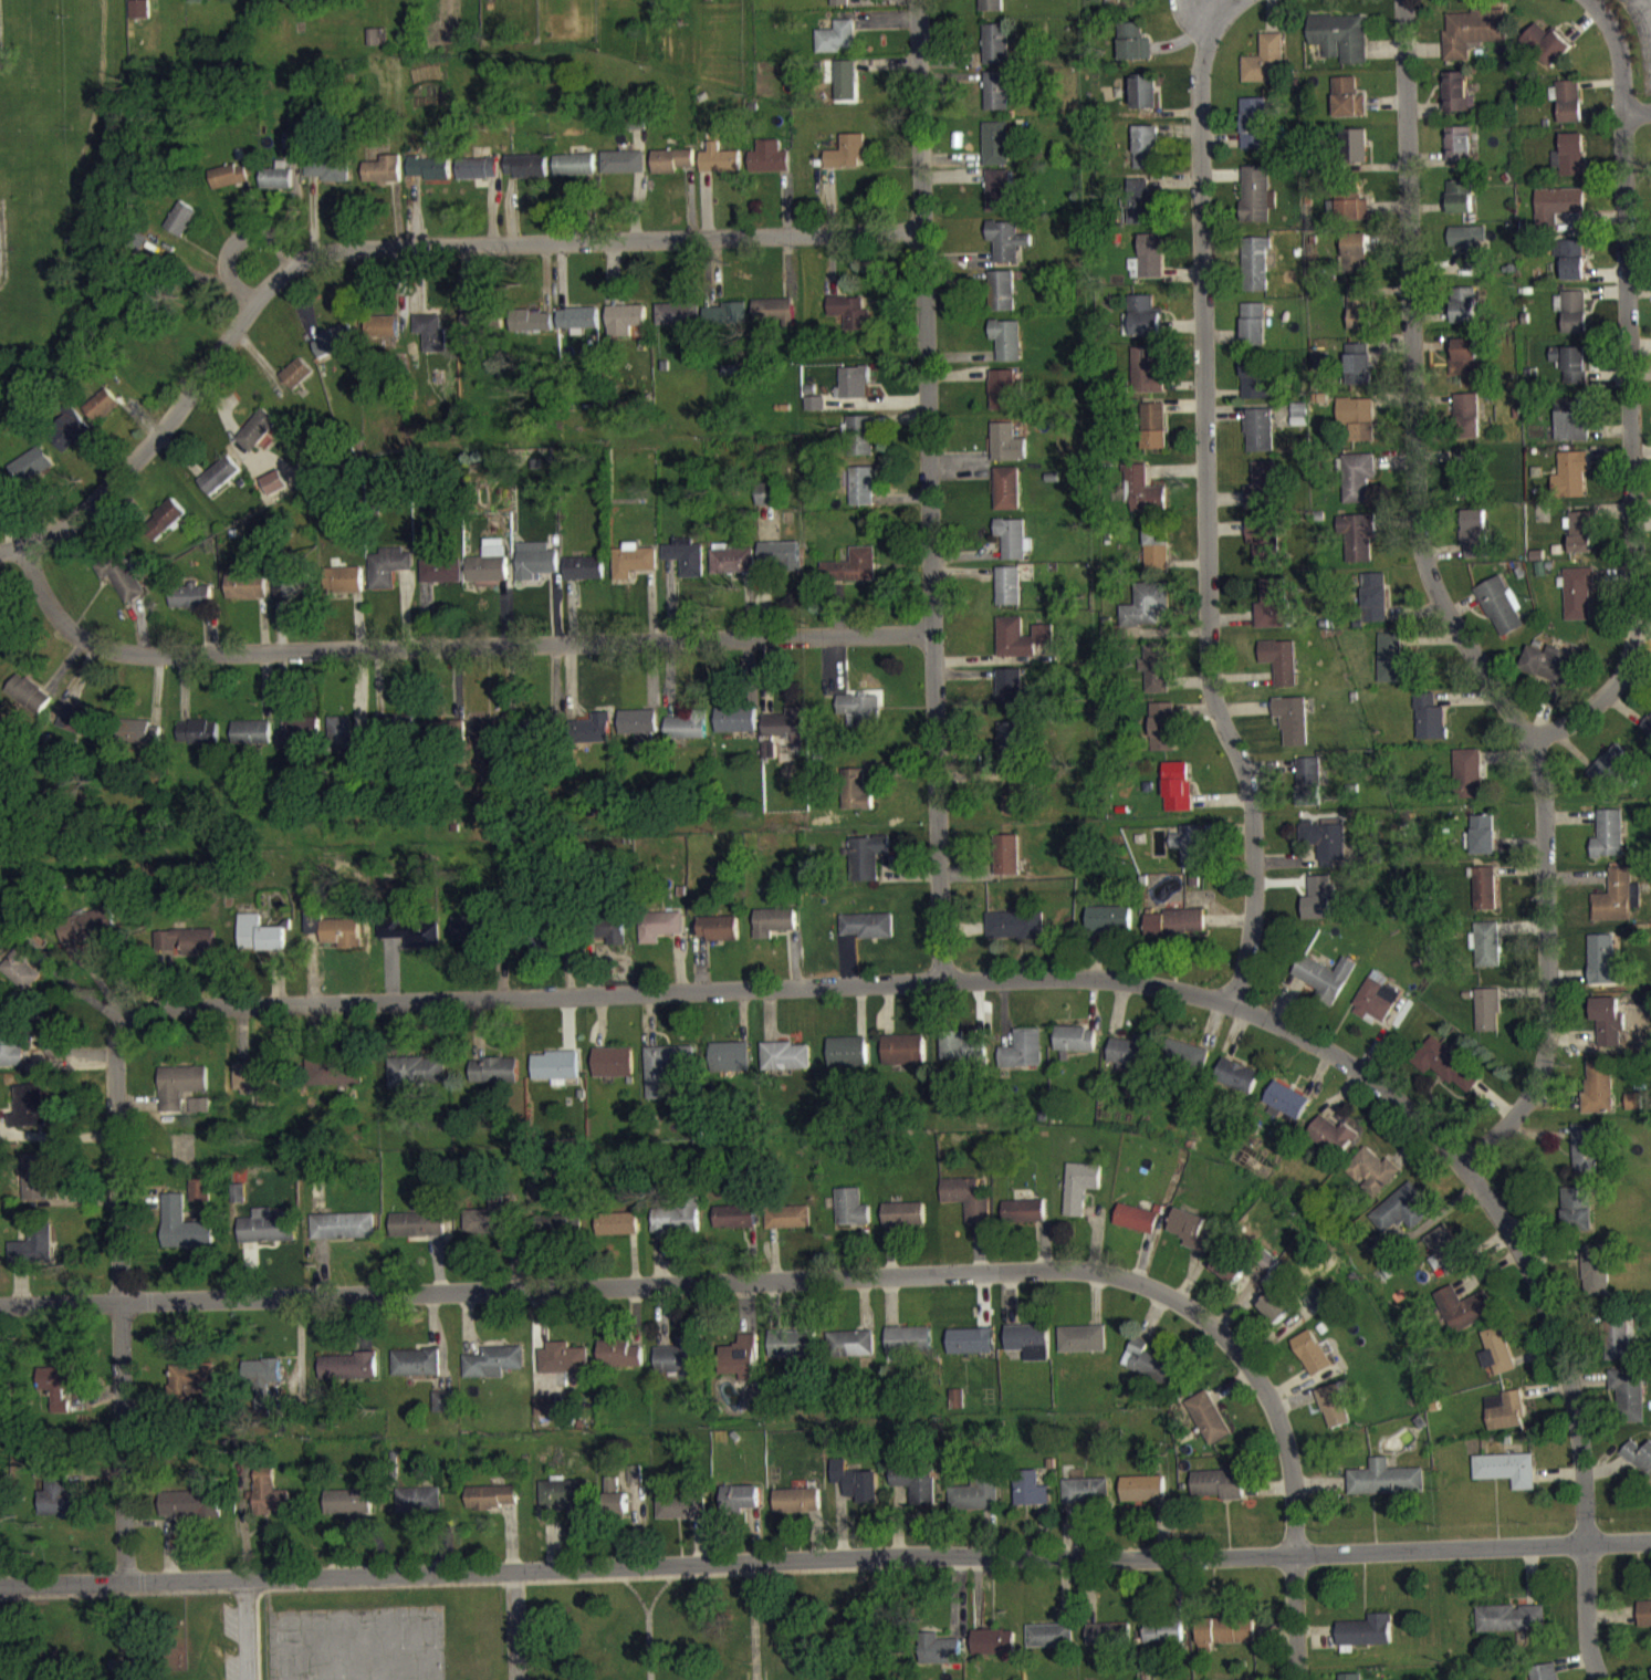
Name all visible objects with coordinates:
road: (1644, 7)
building: (840, 8)
building: (1124, 8)
road: (1253, 8)
building: (991, 10)
building: (140, 18)
building: (1471, 41)
building: (376, 46)
building: (836, 46)
building: (1340, 46)
building: (1133, 52)
road: (1616, 52)
building: (1548, 53)
building: (996, 54)
building: (1265, 71)
building: (846, 90)
building: (996, 101)
building: (1143, 102)
building: (1457, 103)
building: (1348, 107)
building: (1569, 111)
road: (1637, 111)
building: (1254, 133)
building: (294, 148)
building: (996, 153)
building: (1459, 154)
building: (1145, 155)
building: (1355, 155)
building: (847, 163)
building: (1570, 165)
building: (770, 168)
building: (720, 169)
building: (672, 170)
building: (624, 171)
building: (526, 175)
building: (575, 175)
building: (431, 177)
building: (479, 178)
building: (327, 179)
building: (384, 179)
building: (230, 185)
building: (278, 186)
building: (1000, 200)
building: (1256, 204)
building: (1460, 207)
building: (1142, 211)
building: (1558, 215)
building: (1349, 216)
building: (181, 228)
road: (231, 242)
road: (396, 247)
building: (1007, 250)
building: (1470, 254)
building: (1357, 260)
building: (1149, 268)
building: (1571, 269)
building: (1256, 273)
building: (1002, 300)
building: (1464, 314)
building: (1359, 317)
building: (774, 320)
building: (1572, 321)
building: (850, 322)
building: (678, 323)
building: (727, 326)
building: (1146, 326)
building: (578, 328)
building: (625, 328)
building: (477, 331)
building: (533, 331)
building: (1254, 334)
building: (382, 335)
building: (431, 342)
building: (1006, 348)
building: (335, 349)
building: (1467, 367)
building: (1320, 369)
building: (1571, 373)
building: (1360, 374)
building: (1146, 380)
building: (297, 383)
building: (1255, 387)
building: (854, 392)
building: (1002, 399)
building: (815, 413)
building: (102, 415)
building: (1299, 425)
building: (1466, 426)
building: (1359, 427)
building: (1571, 429)
building: (1153, 436)
building: (259, 438)
building: (1260, 440)
building: (859, 445)
building: (270, 448)
road: (1630, 451)
building: (1006, 452)
building: (32, 474)
building: (1465, 483)
building: (220, 484)
building: (1570, 484)
building: (1358, 488)
building: (1, 489)
building: (273, 490)
road: (927, 490)
building: (863, 495)
building: (1263, 495)
building: (1006, 498)
building: (1142, 500)
building: (767, 507)
road: (1220, 514)
building: (169, 524)
building: (1579, 541)
building: (1474, 543)
building: (1012, 547)
building: (1358, 547)
building: (1263, 551)
building: (1157, 557)
building: (780, 565)
building: (687, 566)
building: (536, 570)
building: (634, 570)
building: (733, 570)
building: (490, 572)
building: (388, 575)
building: (853, 576)
building: (585, 577)
building: (442, 580)
building: (122, 585)
building: (349, 589)
building: (1009, 595)
building: (248, 596)
building: (1578, 603)
building: (191, 605)
building: (1375, 607)
road: (1441, 608)
building: (1273, 614)
building: (1147, 615)
building: (1501, 615)
road: (449, 646)
building: (1021, 647)
building: (1393, 670)
building: (1281, 671)
building: (1549, 672)
building: (1156, 678)
building: (1010, 698)
building: (30, 703)
building: (861, 722)
building: (1430, 727)
building: (738, 729)
building: (1293, 729)
building: (787, 730)
building: (82, 731)
building: (387, 733)
building: (1648, 733)
building: (640, 735)
building: (689, 737)
building: (1162, 737)
building: (540, 739)
building: (596, 739)
building: (445, 740)
building: (252, 741)
building: (140, 742)
building: (199, 742)
building: (300, 743)
building: (492, 743)
building: (346, 747)
building: (1011, 747)
building: (770, 760)
building: (1610, 774)
building: (1467, 783)
building: (1308, 791)
building: (1178, 796)
building: (856, 800)
building: (1013, 800)
building: (1484, 844)
building: (1608, 845)
building: (1324, 847)
building: (1187, 854)
building: (1007, 864)
building: (867, 867)
building: (1484, 898)
building: (1319, 907)
building: (1617, 907)
building: (1109, 929)
building: (777, 930)
building: (1177, 932)
building: (869, 935)
building: (1014, 935)
building: (661, 936)
building: (91, 938)
building: (477, 938)
building: (616, 938)
building: (719, 938)
building: (335, 939)
building: (414, 942)
building: (260, 943)
building: (186, 950)
building: (1487, 954)
building: (1605, 970)
building: (23, 975)
road: (1023, 977)
building: (1325, 987)
building: (1375, 1010)
building: (1605, 1018)
building: (1487, 1020)
building: (1608, 1044)
building: (11, 1048)
building: (1076, 1048)
building: (963, 1057)
building: (1023, 1058)
building: (903, 1060)
building: (848, 1061)
building: (1128, 1062)
building: (1187, 1065)
building: (731, 1066)
building: (786, 1066)
building: (614, 1072)
building: (1445, 1074)
building: (556, 1076)
building: (666, 1076)
building: (495, 1079)
building: (335, 1081)
building: (417, 1082)
building: (1237, 1085)
building: (258, 1091)
building: (180, 1095)
building: (1598, 1096)
building: (1286, 1109)
building: (1634, 1110)
building: (30, 1114)
building: (199, 1115)
building: (1333, 1144)
building: (1585, 1158)
building: (1372, 1181)
building: (35, 1187)
building: (195, 1188)
building: (238, 1190)
building: (1079, 1196)
building: (966, 1208)
building: (851, 1218)
building: (1401, 1219)
building: (1577, 1219)
building: (1023, 1221)
building: (184, 1222)
building: (342, 1222)
building: (267, 1223)
building: (903, 1223)
building: (735, 1227)
building: (787, 1227)
building: (677, 1228)
building: (1136, 1228)
building: (487, 1229)
building: (617, 1233)
building: (418, 1234)
building: (343, 1235)
building: (564, 1236)
building: (1193, 1239)
building: (34, 1254)
building: (1446, 1259)
building: (1230, 1277)
building: (1595, 1280)
road: (743, 1283)
road: (119, 1294)
building: (1276, 1317)
building: (1464, 1318)
building: (1619, 1346)
building: (1083, 1348)
building: (1496, 1348)
building: (908, 1349)
building: (970, 1350)
building: (1028, 1350)
building: (792, 1353)
building: (851, 1354)
building: (1312, 1363)
building: (619, 1364)
building: (740, 1366)
building: (563, 1368)
building: (679, 1368)
building: (416, 1371)
building: (493, 1371)
building: (1148, 1371)
building: (347, 1376)
building: (192, 1389)
building: (1628, 1404)
building: (955, 1409)
building: (443, 1411)
building: (545, 1416)
building: (1334, 1416)
building: (1505, 1420)
building: (1208, 1427)
building: (1506, 1467)
building: (1639, 1467)
building: (1386, 1489)
building: (856, 1492)
building: (916, 1492)
building: (1218, 1494)
building: (1030, 1499)
building: (1142, 1499)
building: (269, 1501)
building: (1086, 1501)
building: (566, 1504)
building: (974, 1504)
building: (56, 1505)
building: (492, 1506)
building: (616, 1507)
building: (740, 1507)
building: (419, 1510)
building: (796, 1510)
building: (348, 1512)
building: (190, 1513)
building: (681, 1515)
road: (825, 1573)
road: (1586, 1618)
building: (1644, 1622)
road: (1294, 1624)
road: (514, 1628)
building: (1511, 1628)
road: (245, 1629)
building: (1164, 1640)
building: (1225, 1641)
building: (1365, 1641)
building: (1108, 1644)
building: (1049, 1645)
building: (993, 1651)
building: (941, 1660)
building: (1545, 1677)

